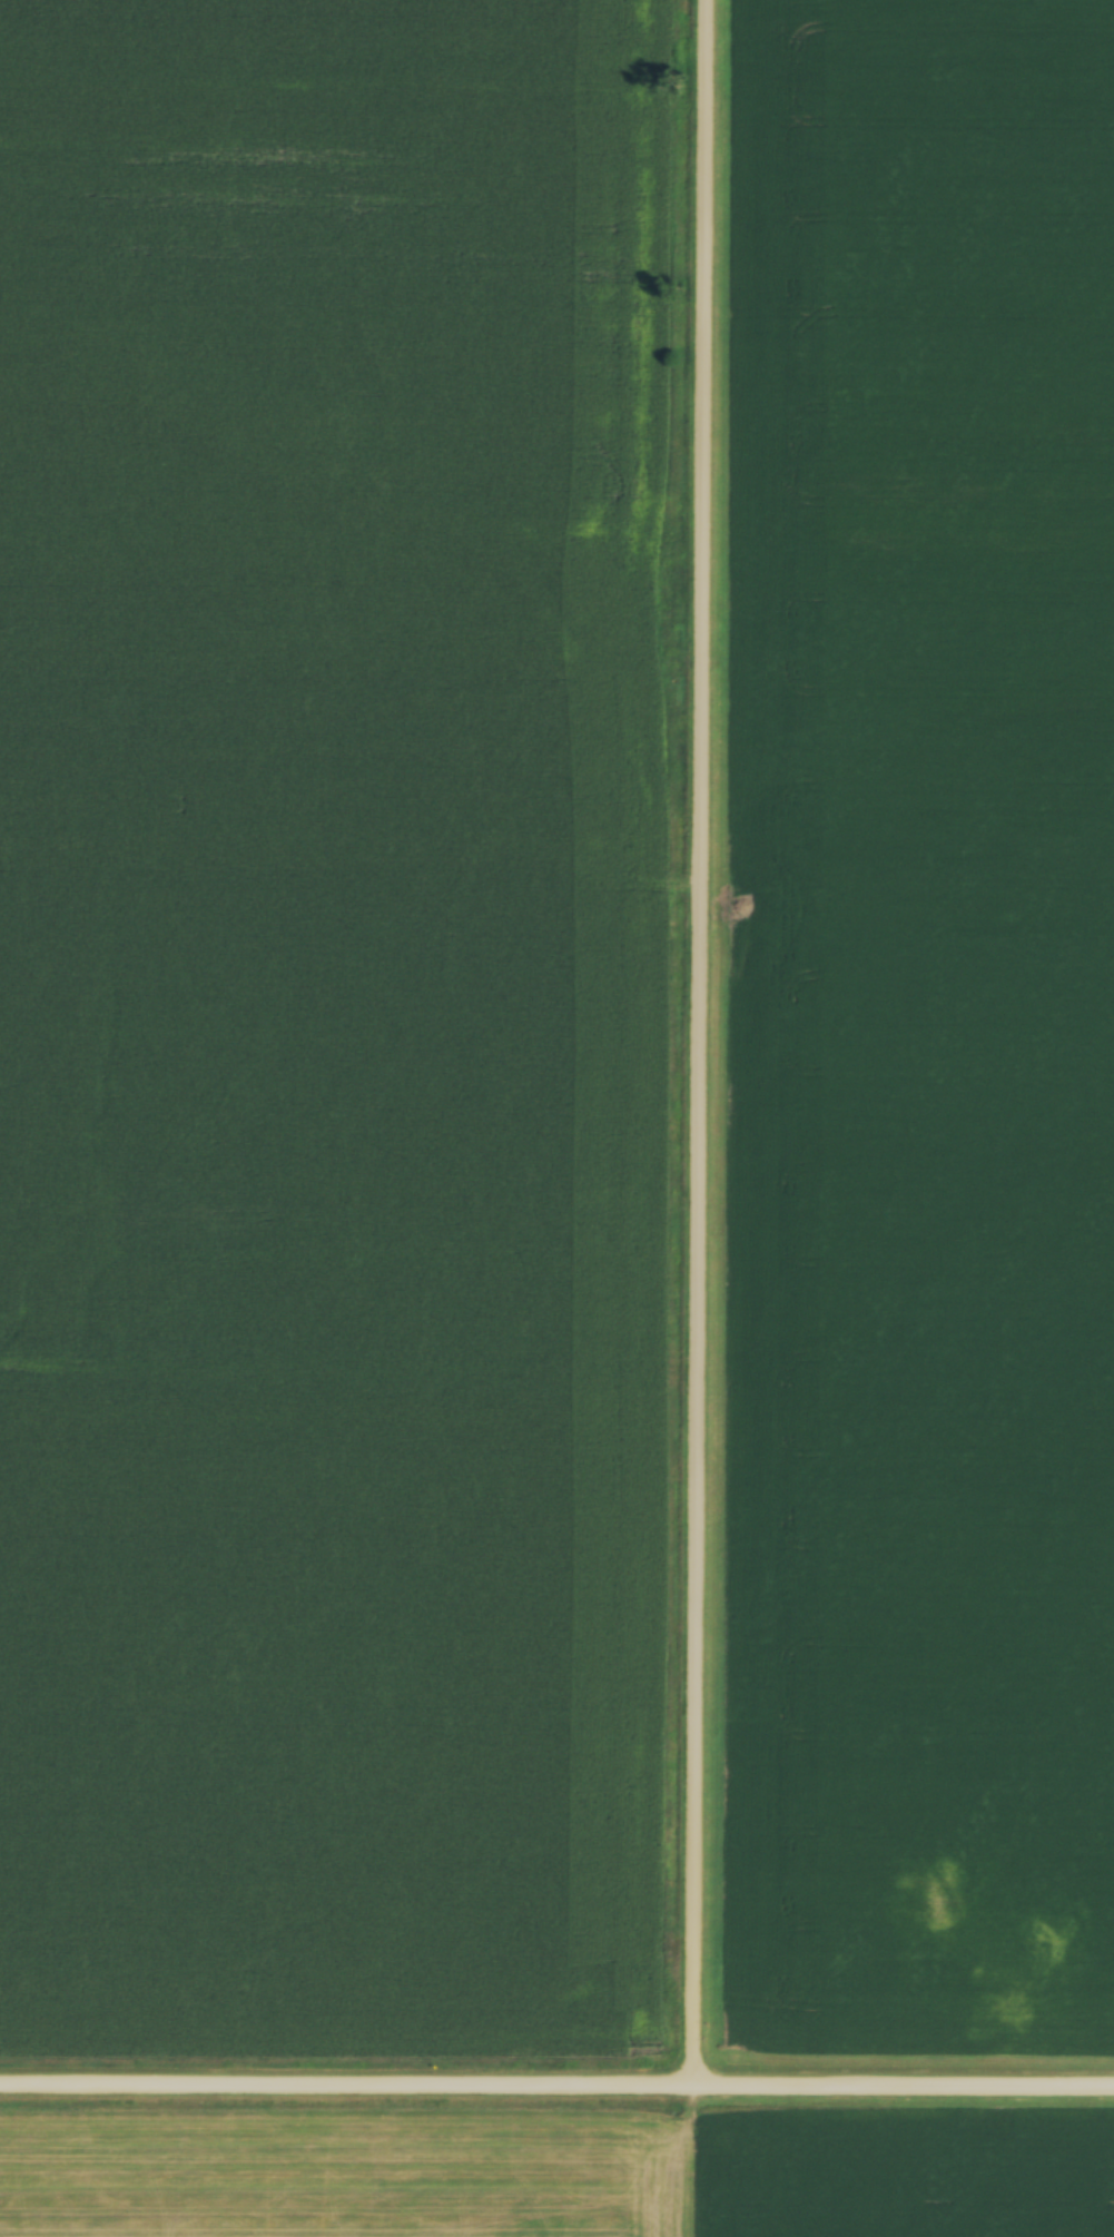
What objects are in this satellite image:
road: (702, 1044)
road: (556, 2087)

